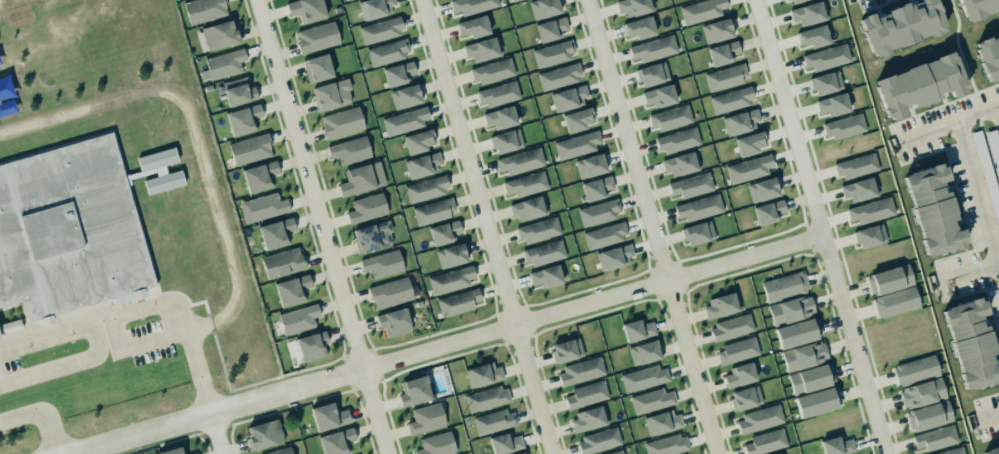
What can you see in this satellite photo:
building: (512, 0)
building: (794, 0)
building: (472, 5)
building: (633, 6)
building: (373, 7)
building: (543, 7)
building: (977, 7)
building: (305, 8)
building: (202, 9)
building: (700, 9)
building: (807, 11)
building: (899, 22)
building: (473, 26)
building: (550, 27)
building: (379, 28)
building: (639, 28)
building: (716, 29)
building: (218, 33)
building: (811, 34)
building: (316, 36)
building: (481, 47)
building: (652, 47)
building: (722, 51)
building: (387, 52)
building: (552, 52)
building: (988, 53)
building: (825, 55)
building: (223, 62)
building: (316, 66)
building: (491, 70)
building: (651, 72)
building: (398, 73)
building: (558, 75)
building: (726, 77)
building: (824, 80)
building: (918, 81)
building: (237, 91)
building: (329, 92)
building: (497, 94)
building: (659, 94)
building: (406, 96)
building: (570, 97)
building: (730, 98)
building: (833, 105)
road: (998, 107)
road: (976, 111)
building: (669, 116)
building: (241, 117)
building: (499, 117)
building: (578, 119)
building: (406, 120)
building: (739, 120)
building: (340, 121)
building: (843, 126)
building: (505, 139)
building: (677, 140)
building: (419, 141)
building: (576, 143)
building: (750, 143)
building: (349, 148)
building: (993, 148)
building: (250, 149)
building: (520, 161)
building: (680, 162)
building: (422, 164)
building: (589, 164)
building: (855, 166)
building: (749, 168)
building: (160, 170)
building: (986, 173)
building: (257, 174)
building: (360, 177)
building: (525, 182)
building: (691, 185)
building: (595, 186)
building: (857, 188)
building: (426, 189)
building: (763, 189)
road: (976, 197)
building: (365, 206)
building: (528, 206)
building: (698, 206)
building: (263, 207)
building: (932, 208)
building: (597, 210)
building: (769, 210)
building: (870, 210)
building: (433, 211)
road: (321, 227)
road: (486, 227)
road: (652, 227)
road: (821, 227)
building: (68, 228)
building: (537, 228)
building: (697, 231)
building: (444, 232)
building: (276, 233)
building: (371, 234)
building: (603, 234)
building: (869, 234)
building: (543, 251)
building: (451, 255)
building: (613, 255)
building: (283, 262)
building: (383, 264)
road: (968, 270)
building: (544, 275)
building: (449, 278)
building: (888, 278)
building: (783, 285)
building: (292, 290)
building: (391, 292)
building: (895, 301)
building: (458, 302)
building: (721, 306)
building: (791, 309)
road: (179, 311)
building: (298, 319)
building: (394, 321)
building: (10, 326)
building: (730, 326)
building: (637, 328)
building: (796, 331)
road: (165, 339)
building: (970, 342)
road: (100, 345)
road: (445, 345)
building: (312, 346)
building: (568, 350)
building: (737, 351)
building: (645, 352)
building: (802, 354)
building: (915, 369)
building: (581, 371)
building: (482, 373)
building: (740, 375)
building: (643, 376)
building: (811, 378)
building: (414, 391)
building: (920, 391)
building: (587, 394)
building: (744, 396)
building: (485, 397)
building: (652, 400)
building: (815, 400)
building: (927, 414)
building: (329, 416)
road: (40, 417)
building: (425, 418)
building: (492, 419)
building: (589, 419)
building: (760, 419)
building: (662, 422)
building: (262, 432)
road: (216, 433)
building: (934, 436)
building: (337, 441)
building: (504, 441)
building: (599, 441)
building: (766, 442)
building: (434, 444)
building: (667, 445)
building: (837, 445)
building: (990, 446)
building: (278, 450)
building: (951, 450)
building: (172, 451)
building: (614, 451)
building: (194, 453)
building: (518, 453)
building: (524, 453)
building: (777, 453)
building: (782, 453)

